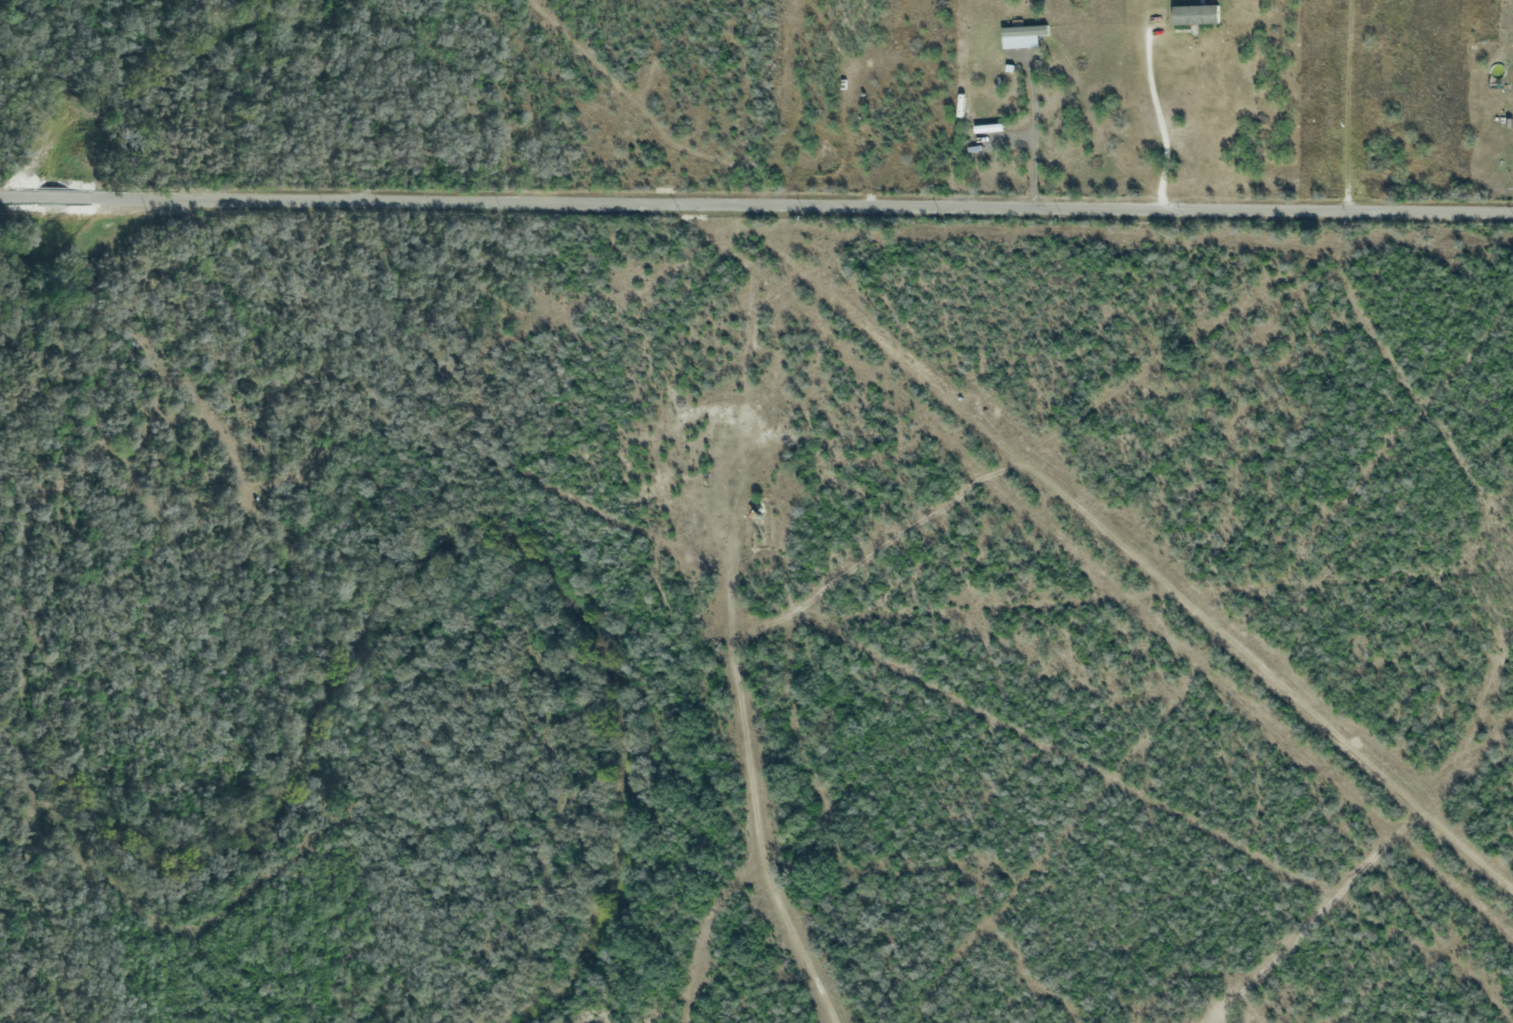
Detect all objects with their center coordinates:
building: (1195, 15)
road: (3, 195)
road: (90, 196)
road: (844, 204)

